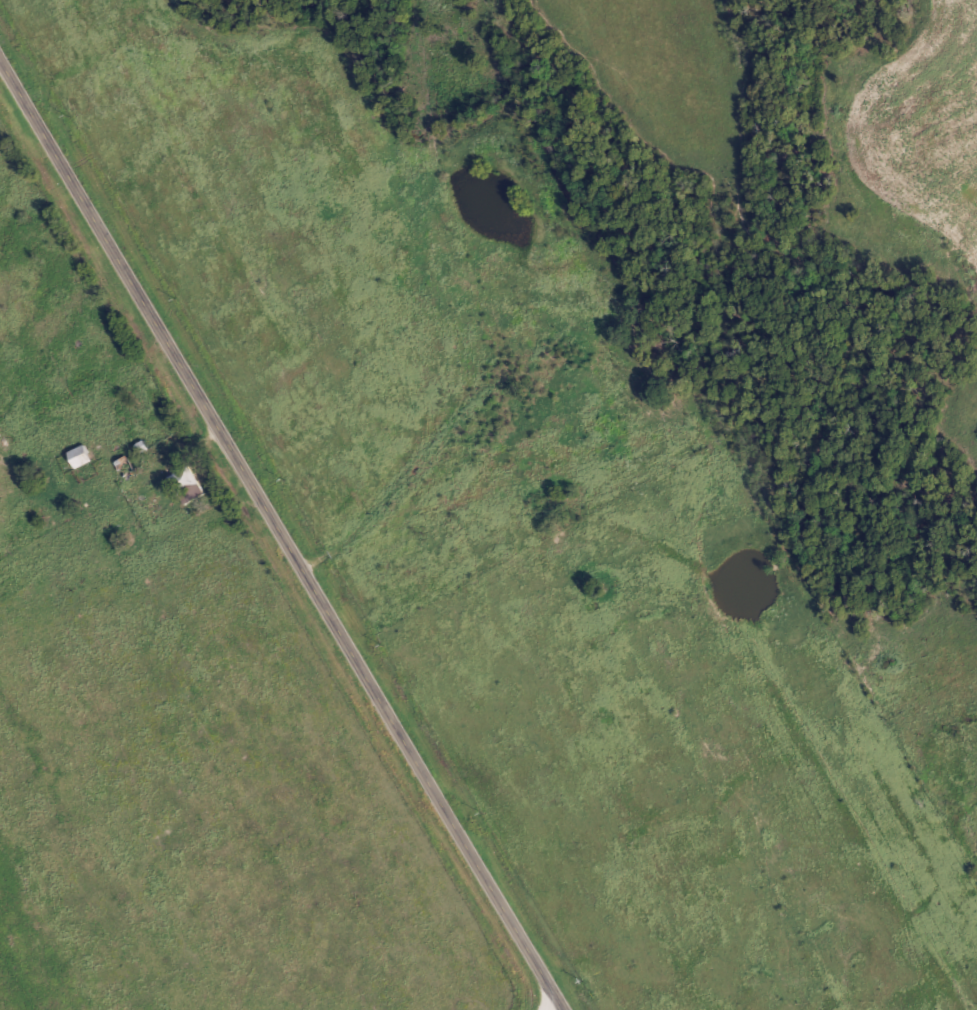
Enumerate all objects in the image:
road: (281, 534)

